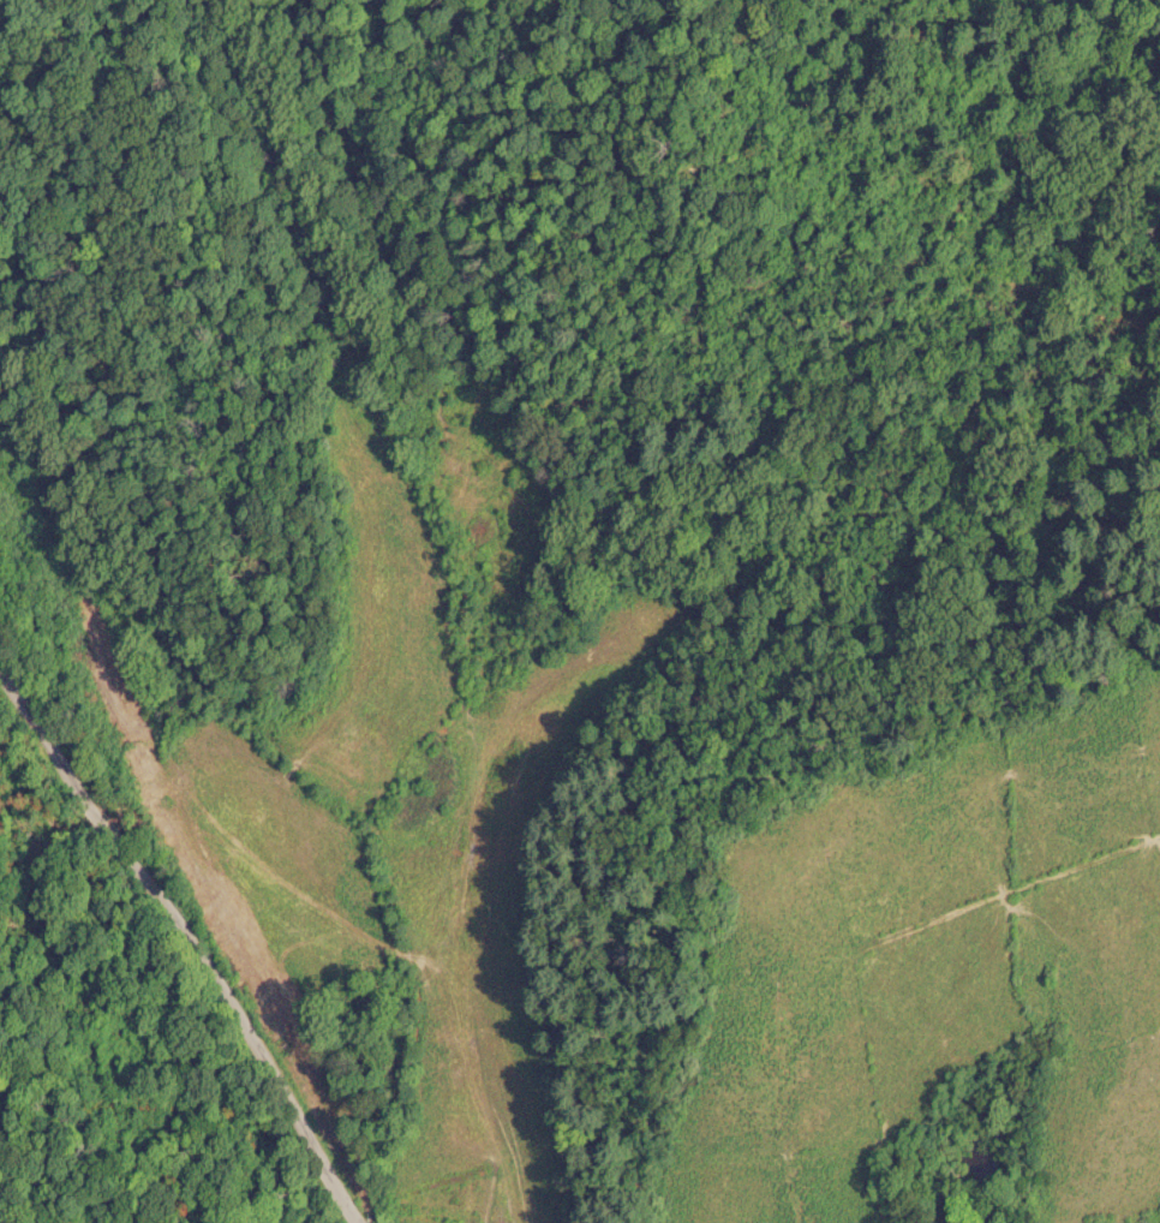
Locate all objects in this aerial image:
road: (178, 951)

